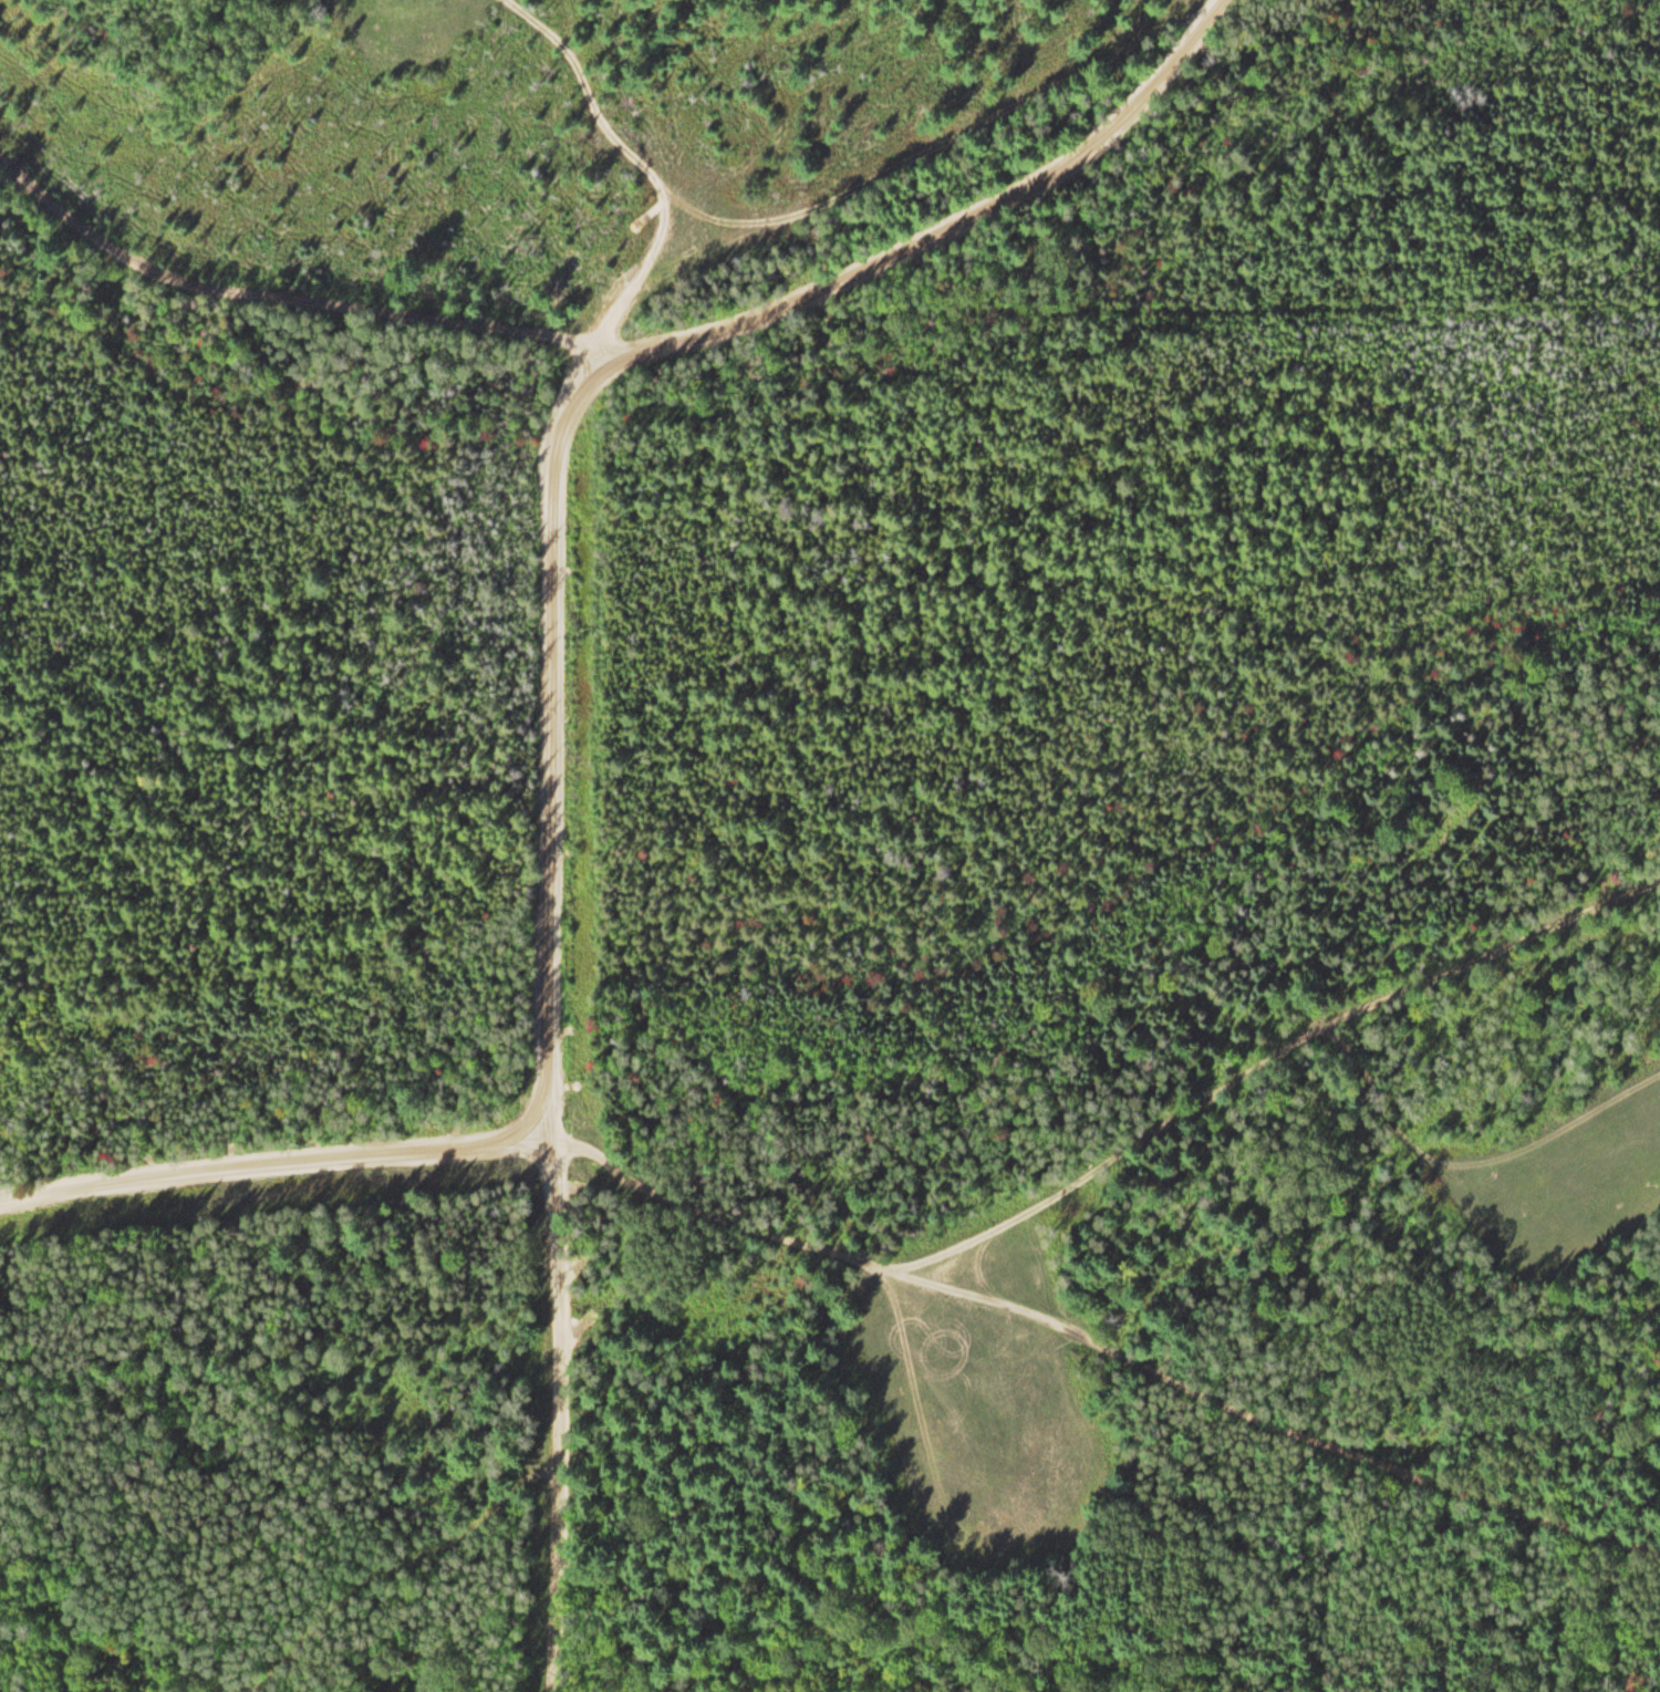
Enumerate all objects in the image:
road: (288, 289)
road: (573, 383)
road: (1112, 1145)
road: (272, 1177)
road: (1270, 1421)
road: (546, 1424)

